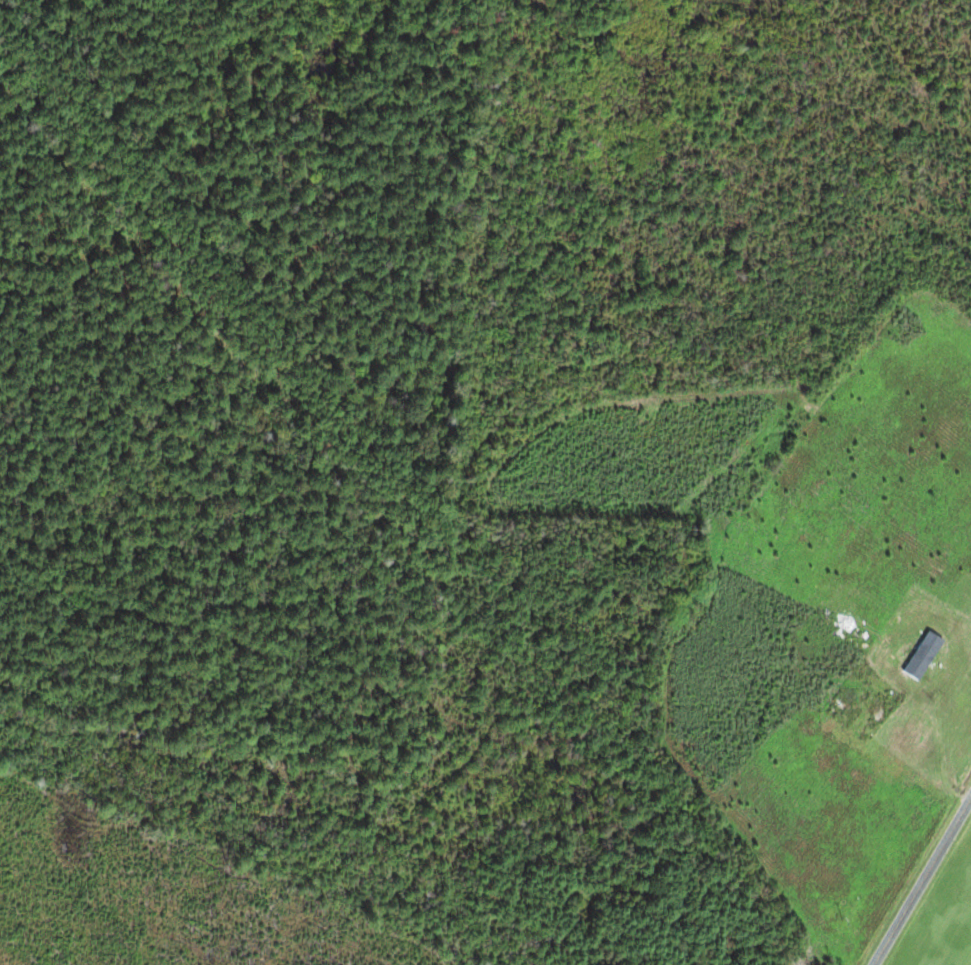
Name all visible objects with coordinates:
road: (922, 881)

